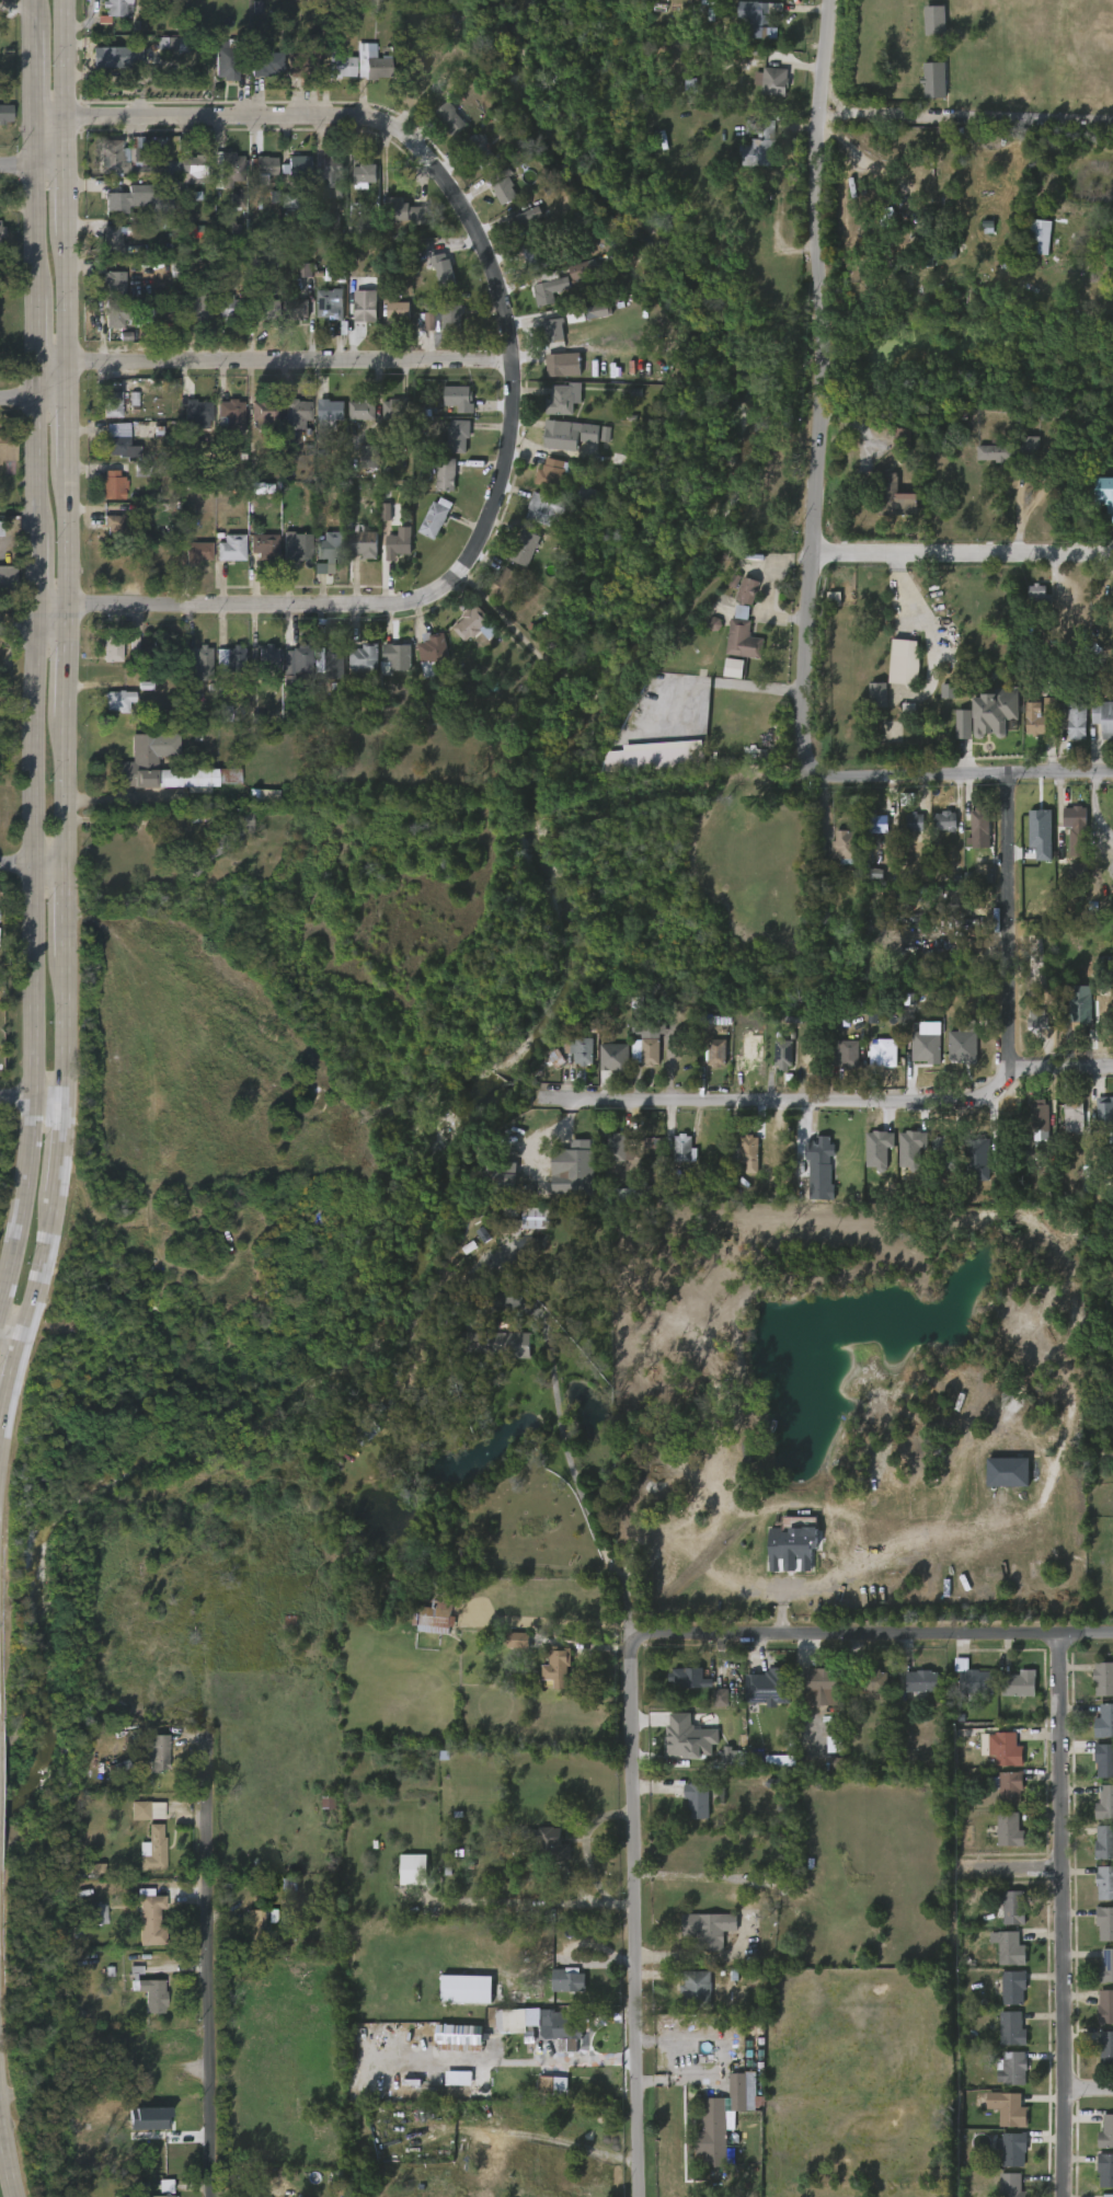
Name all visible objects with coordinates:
building: (309, 1)
building: (118, 10)
building: (758, 16)
building: (934, 21)
building: (172, 44)
building: (116, 56)
building: (306, 58)
building: (227, 59)
building: (267, 64)
building: (377, 66)
building: (342, 67)
building: (773, 80)
building: (934, 80)
building: (3, 112)
road: (353, 115)
road: (967, 116)
building: (448, 117)
building: (758, 142)
building: (135, 150)
building: (479, 150)
building: (112, 157)
road: (862, 160)
road: (30, 162)
building: (299, 166)
building: (172, 168)
building: (263, 168)
building: (196, 169)
building: (232, 169)
building: (333, 171)
building: (365, 175)
building: (503, 185)
building: (137, 198)
building: (237, 198)
building: (290, 200)
building: (406, 211)
building: (928, 218)
building: (526, 222)
building: (362, 227)
building: (1, 231)
building: (195, 231)
building: (1039, 237)
building: (115, 240)
building: (931, 249)
building: (537, 254)
building: (584, 269)
building: (305, 271)
building: (444, 271)
building: (111, 277)
building: (546, 286)
building: (198, 301)
building: (331, 306)
building: (366, 307)
building: (231, 308)
building: (296, 308)
building: (264, 309)
building: (400, 310)
building: (597, 311)
building: (575, 314)
building: (117, 315)
building: (445, 318)
building: (552, 329)
road: (276, 363)
building: (565, 365)
road: (823, 376)
road: (33, 399)
building: (459, 399)
building: (562, 400)
building: (113, 403)
building: (264, 410)
building: (364, 410)
building: (197, 411)
building: (297, 411)
building: (395, 411)
building: (331, 412)
building: (230, 413)
building: (567, 434)
building: (459, 435)
building: (902, 437)
building: (118, 438)
building: (1029, 445)
building: (5, 446)
building: (998, 452)
building: (368, 457)
road: (1024, 470)
building: (142, 471)
building: (551, 473)
building: (447, 474)
building: (112, 484)
building: (1106, 490)
building: (887, 493)
building: (587, 495)
building: (542, 508)
building: (1112, 509)
building: (386, 513)
building: (436, 518)
building: (1, 528)
building: (123, 528)
building: (366, 543)
building: (399, 543)
building: (331, 544)
building: (264, 545)
building: (297, 545)
building: (233, 548)
building: (523, 548)
building: (198, 551)
road: (964, 557)
building: (7, 577)
building: (503, 585)
building: (747, 590)
building: (1041, 595)
road: (364, 605)
building: (469, 623)
building: (714, 624)
road: (923, 624)
road: (31, 629)
building: (746, 640)
building: (135, 643)
road: (32, 647)
building: (114, 647)
building: (433, 647)
building: (399, 655)
building: (366, 656)
building: (232, 658)
building: (268, 658)
building: (332, 659)
building: (199, 662)
building: (297, 664)
building: (677, 664)
building: (733, 668)
building: (902, 668)
road: (720, 685)
building: (948, 691)
building: (881, 694)
building: (119, 700)
building: (1048, 705)
building: (908, 710)
building: (994, 712)
building: (227, 713)
building: (1103, 718)
road: (62, 720)
building: (1077, 722)
building: (1035, 723)
building: (963, 724)
building: (656, 757)
building: (137, 764)
road: (956, 774)
road: (123, 795)
building: (264, 796)
building: (1077, 816)
road: (126, 820)
building: (946, 820)
building: (915, 823)
building: (980, 823)
building: (880, 827)
building: (1041, 833)
building: (220, 837)
building: (845, 848)
road: (31, 863)
building: (876, 875)
building: (881, 897)
building: (959, 902)
building: (929, 956)
building: (1103, 973)
road: (1007, 980)
building: (1081, 1007)
building: (1036, 1017)
building: (651, 1042)
building: (926, 1047)
building: (962, 1047)
building: (578, 1048)
building: (883, 1051)
building: (718, 1053)
building: (783, 1053)
building: (844, 1053)
building: (613, 1058)
building: (556, 1059)
road: (1064, 1066)
road: (31, 1098)
road: (787, 1100)
building: (1041, 1112)
building: (1105, 1115)
building: (1076, 1117)
building: (656, 1143)
building: (615, 1147)
building: (681, 1147)
building: (746, 1150)
building: (818, 1150)
building: (946, 1150)
building: (977, 1159)
building: (581, 1162)
building: (502, 1166)
building: (634, 1194)
building: (519, 1218)
building: (461, 1307)
road: (539, 1313)
road: (10, 1338)
building: (495, 1343)
building: (380, 1411)
building: (365, 1430)
building: (1007, 1472)
road: (588, 1488)
building: (790, 1549)
road: (911, 1574)
building: (434, 1617)
road: (870, 1633)
building: (518, 1641)
building: (559, 1666)
building: (695, 1679)
building: (1103, 1679)
building: (825, 1680)
building: (874, 1680)
building: (975, 1680)
building: (918, 1682)
building: (1021, 1683)
building: (772, 1686)
building: (725, 1696)
building: (1103, 1722)
building: (688, 1738)
building: (834, 1745)
building: (1003, 1749)
building: (159, 1753)
building: (735, 1759)
building: (1103, 1760)
building: (780, 1761)
building: (1008, 1787)
building: (696, 1801)
building: (329, 1802)
building: (1104, 1804)
building: (147, 1810)
building: (1009, 1831)
building: (547, 1843)
building: (1104, 1843)
road: (582, 1844)
building: (153, 1849)
building: (415, 1871)
building: (761, 1879)
road: (1003, 1880)
building: (1104, 1884)
road: (528, 1901)
building: (1013, 1908)
building: (96, 1914)
road: (1051, 1914)
road: (631, 1916)
building: (151, 1917)
building: (1104, 1923)
building: (259, 1926)
building: (710, 1929)
building: (1010, 1948)
road: (702, 1957)
building: (1105, 1968)
road: (215, 1970)
building: (566, 1979)
building: (1011, 1986)
building: (464, 1988)
building: (697, 1989)
building: (149, 1991)
building: (1105, 2008)
building: (512, 2021)
building: (559, 2024)
building: (1011, 2027)
building: (458, 2036)
building: (1105, 2048)
road: (724, 2057)
building: (1011, 2068)
building: (458, 2078)
building: (551, 2084)
building: (736, 2091)
road: (1, 2098)
road: (1085, 2104)
building: (1013, 2109)
building: (149, 2118)
road: (5, 2131)
building: (713, 2132)
building: (1105, 2132)
road: (562, 2142)
building: (1014, 2147)
building: (1105, 2169)
building: (1013, 2185)
building: (165, 2188)
building: (117, 2195)
building: (1108, 2195)

